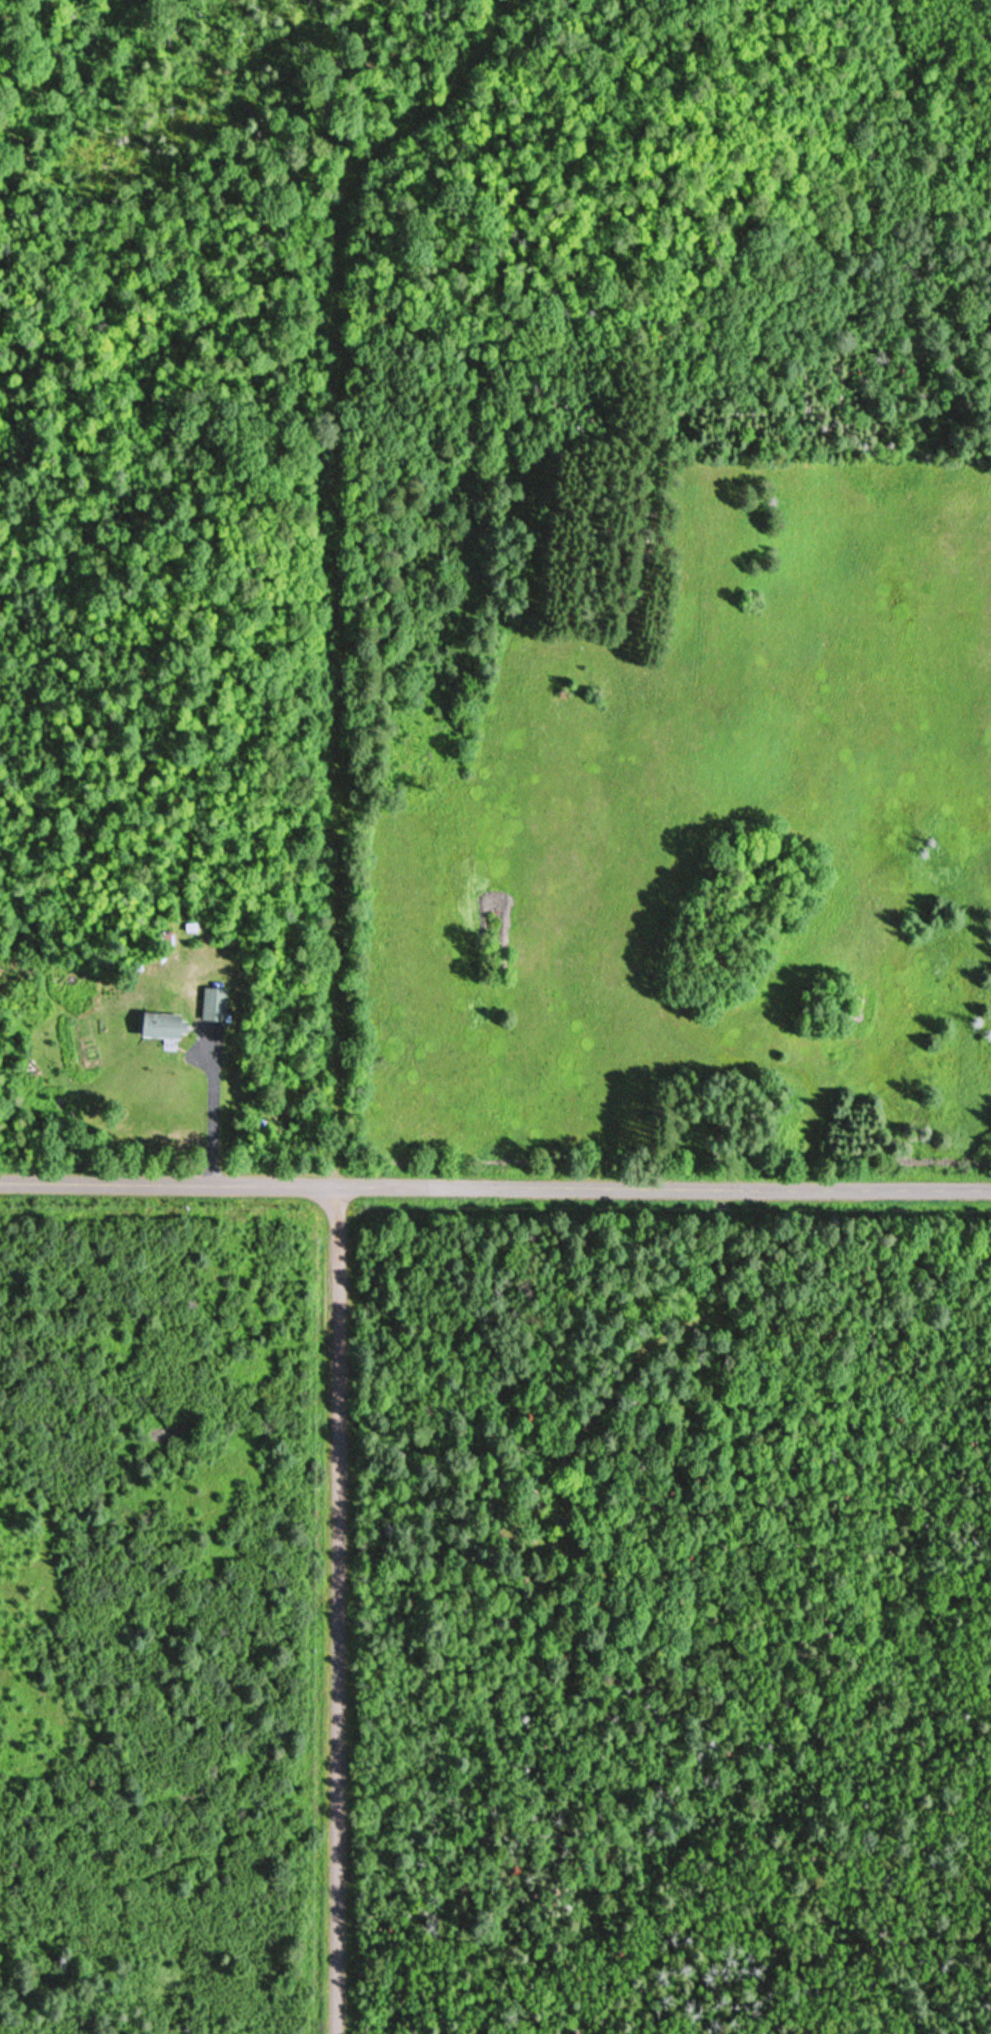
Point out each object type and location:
building: (217, 1004)
building: (168, 1025)
road: (495, 1180)
road: (344, 1607)

